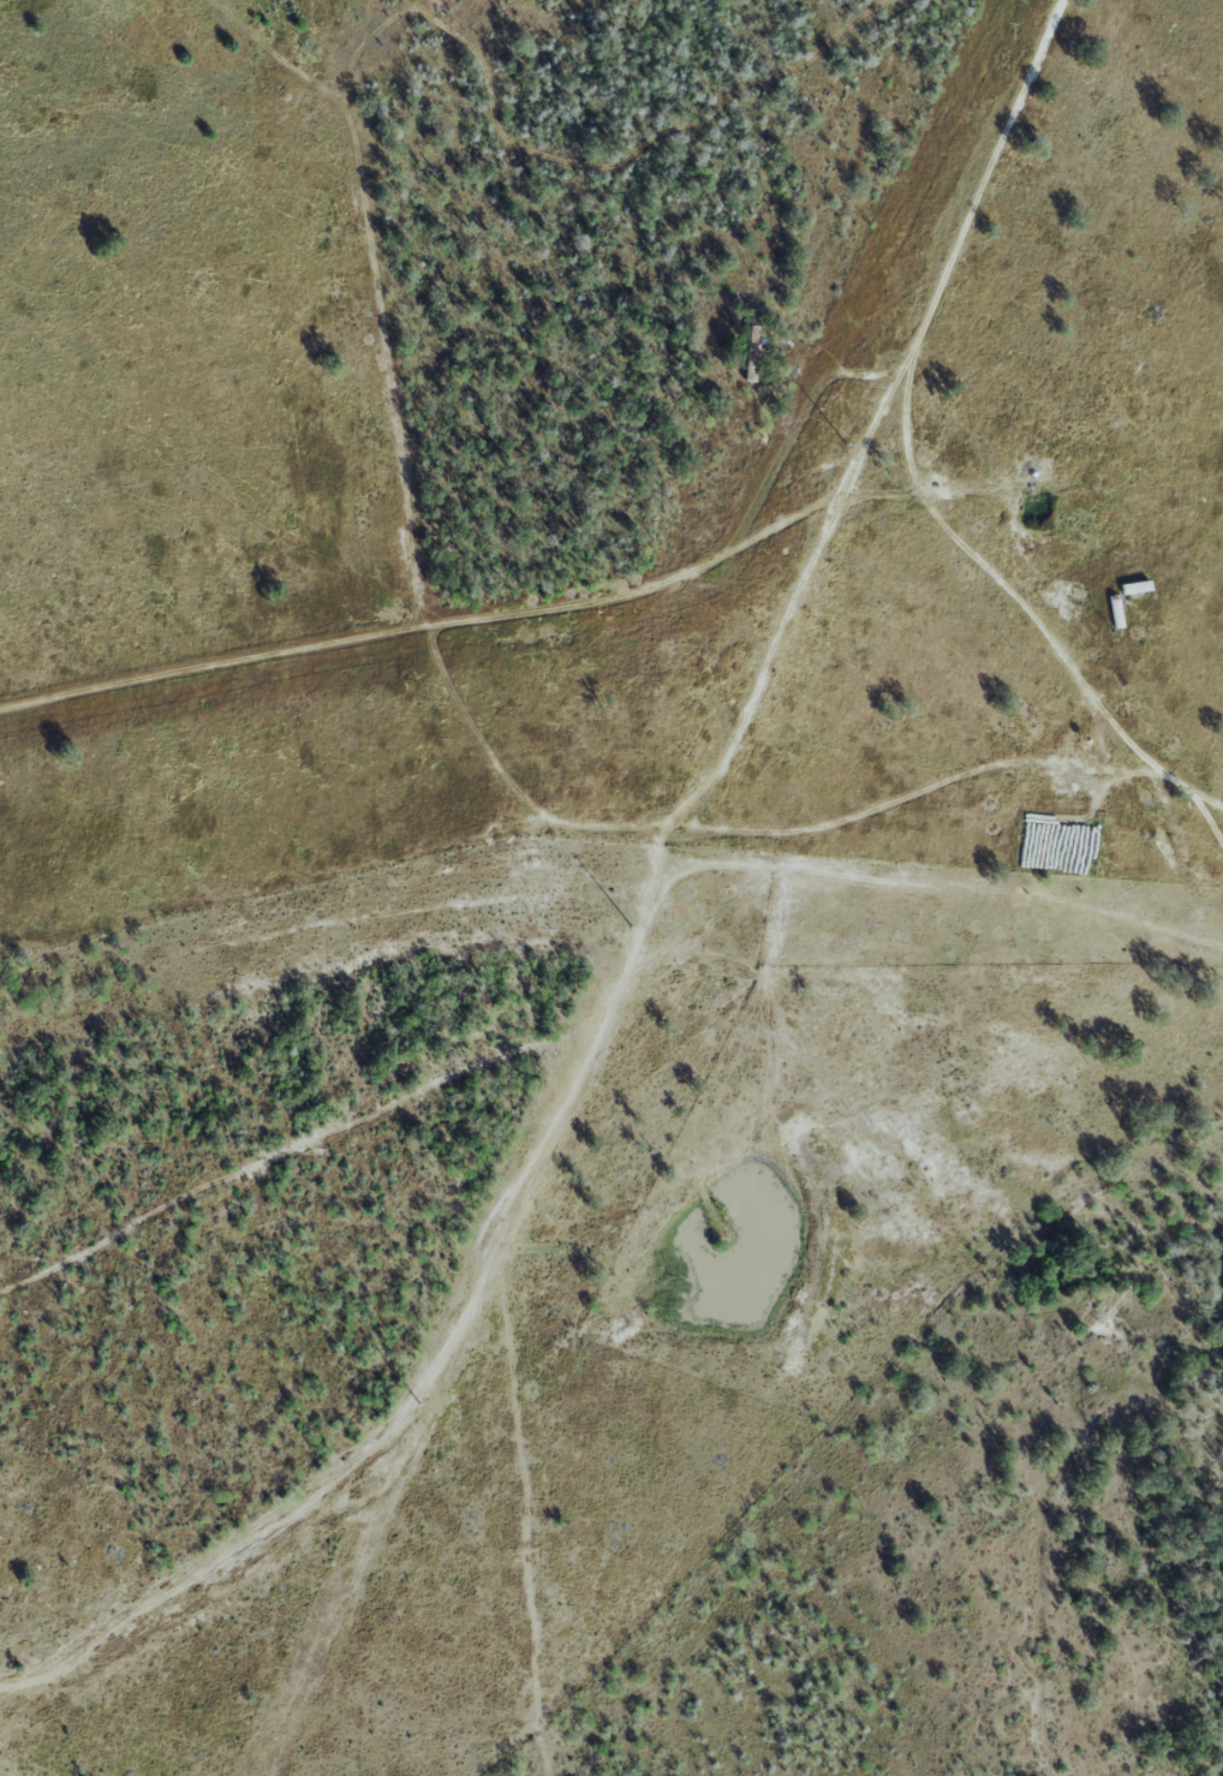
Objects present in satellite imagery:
road: (873, 424)
road: (1026, 610)

